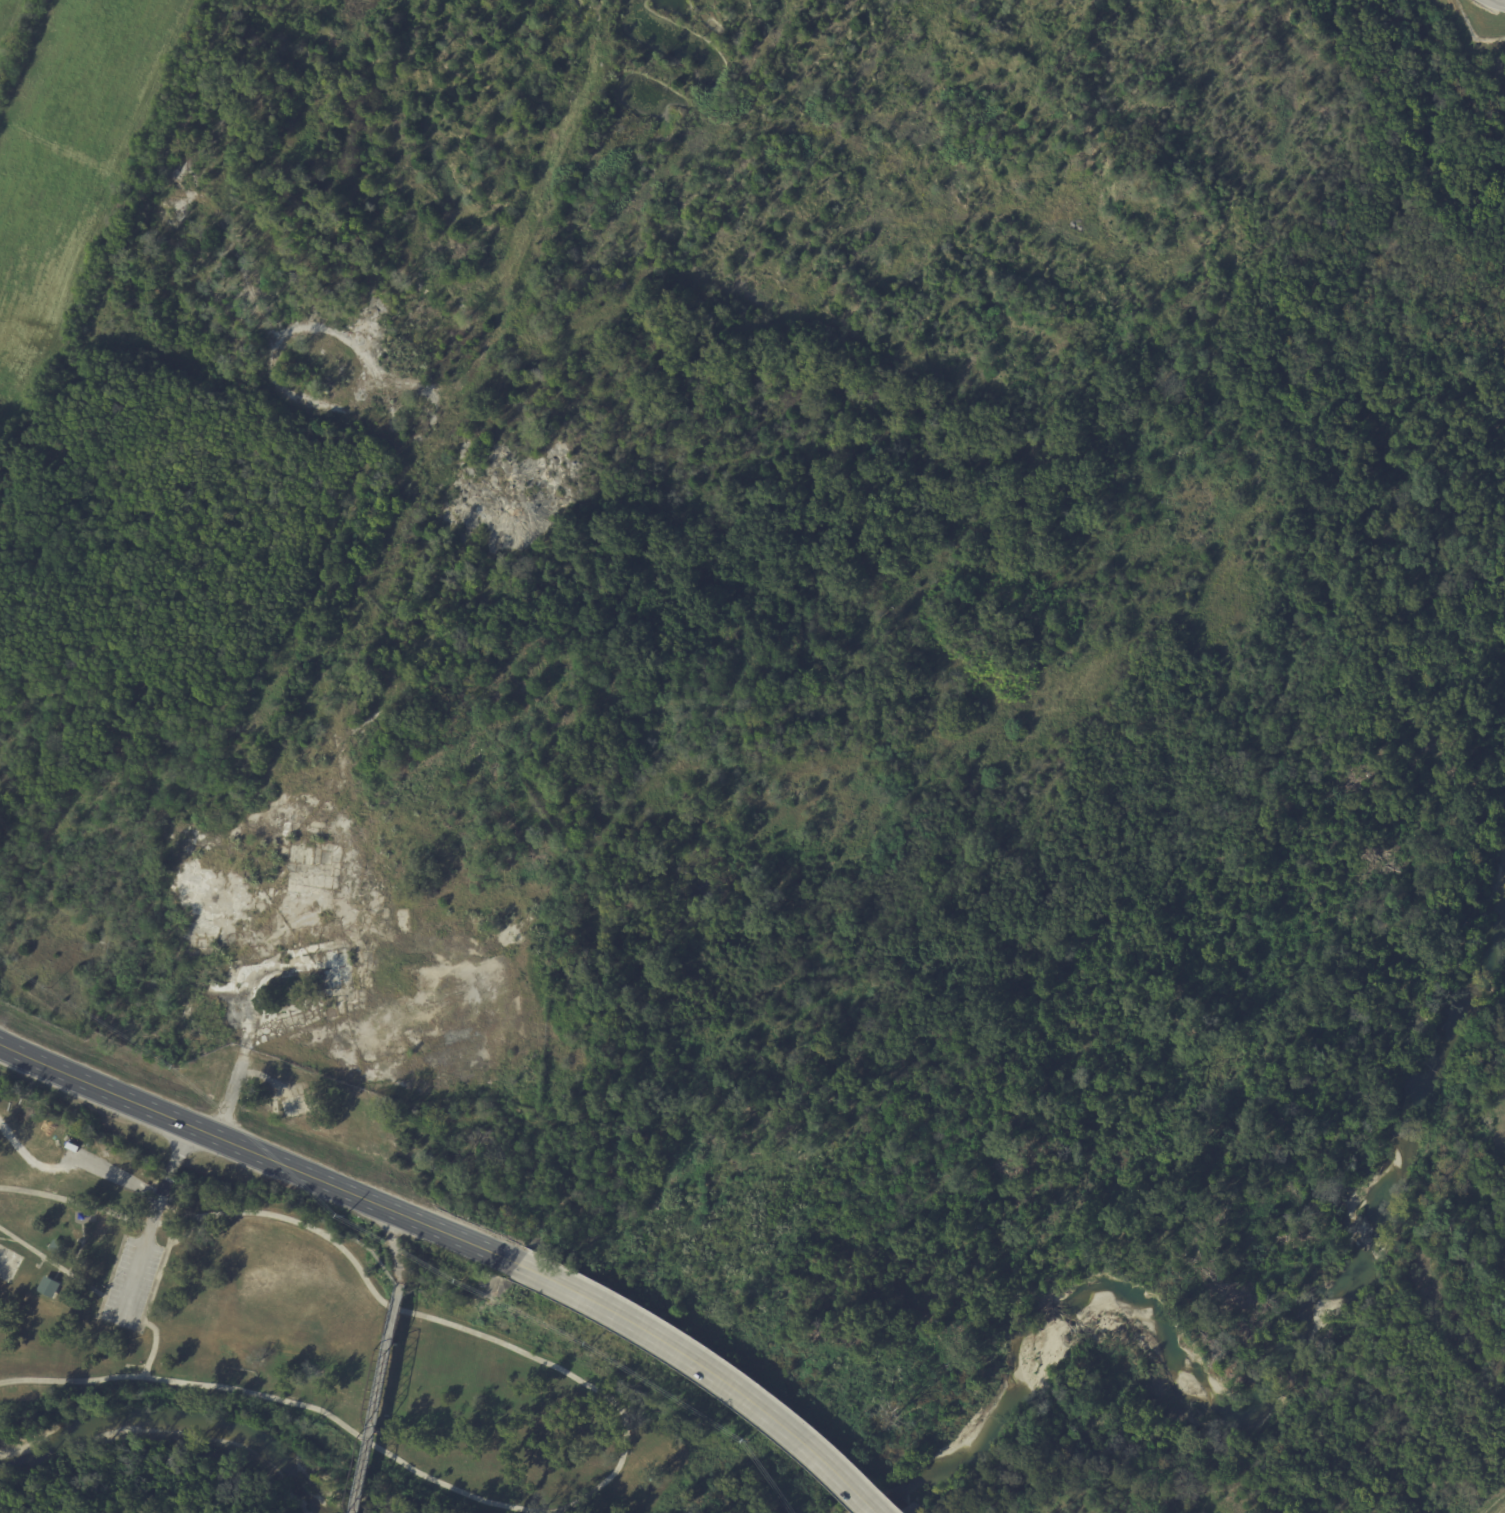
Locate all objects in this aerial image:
road: (1492, 2)
airport: (807, 679)
building: (302, 854)
building: (71, 1147)
road: (74, 1161)
road: (29, 1215)
road: (150, 1224)
road: (168, 1232)
road: (449, 1238)
road: (364, 1247)
road: (394, 1247)
building: (59, 1250)
road: (50, 1262)
park: (8, 1264)
parking lot: (129, 1283)
building: (48, 1288)
road: (372, 1292)
road: (400, 1293)
road: (151, 1294)
park: (336, 1339)
river: (1267, 1358)
road: (291, 1402)
road: (378, 1407)
river: (169, 1419)
road: (869, 1504)

